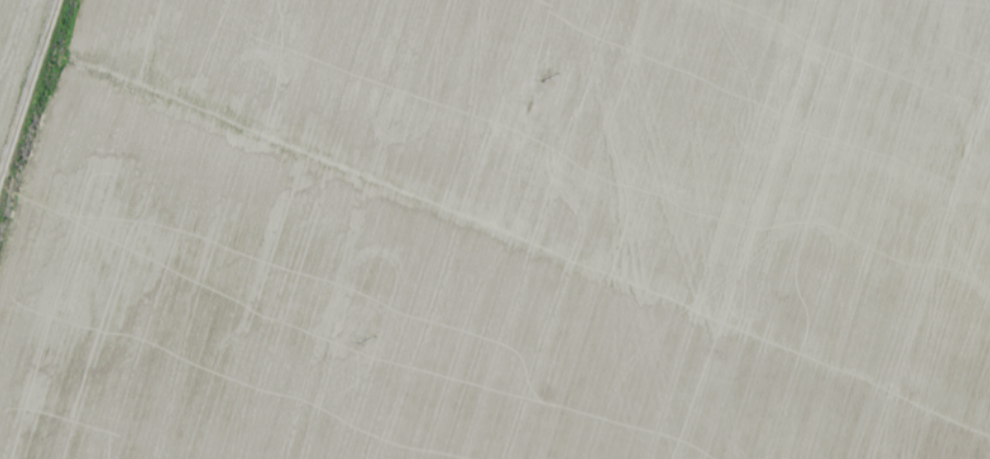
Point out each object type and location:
road: (28, 87)

